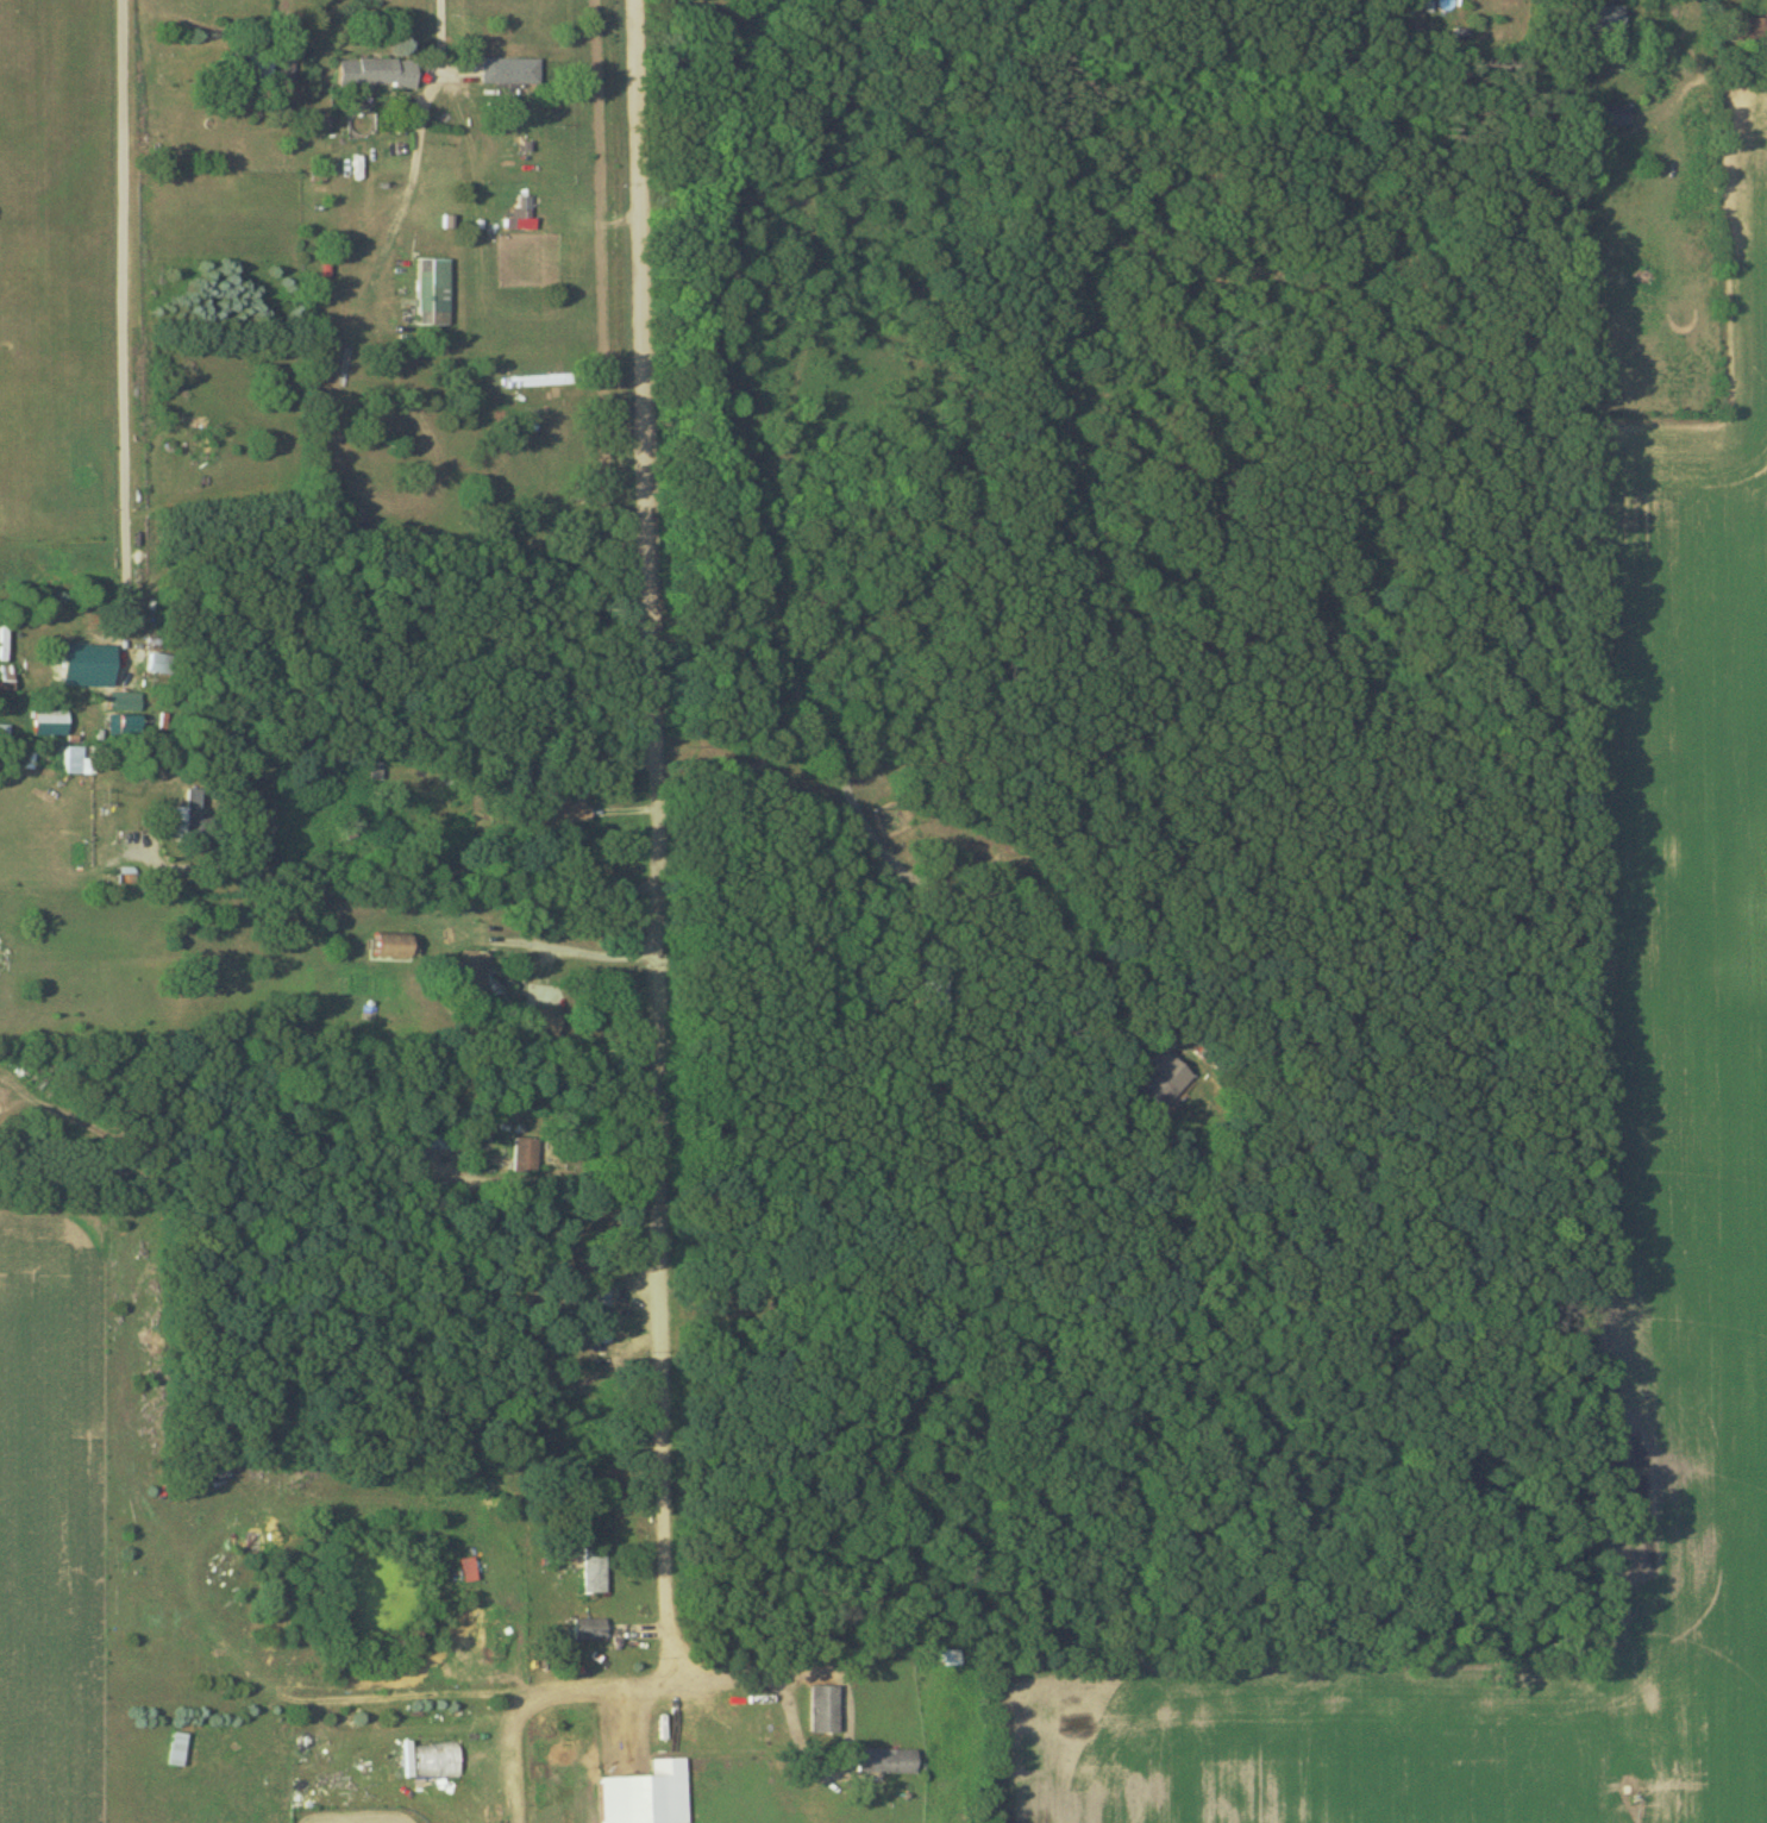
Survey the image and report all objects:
road: (286, 13)
road: (1569, 17)
building: (1598, 17)
building: (1748, 29)
building: (250, 65)
building: (509, 70)
building: (376, 73)
road: (421, 108)
building: (1615, 114)
building: (432, 292)
road: (126, 326)
building: (161, 663)
building: (89, 665)
building: (50, 722)
building: (79, 760)
building: (562, 803)
building: (194, 819)
road: (395, 867)
road: (984, 896)
building: (391, 945)
road: (607, 960)
road: (658, 971)
building: (934, 984)
building: (540, 1022)
building: (1155, 1086)
building: (524, 1155)
building: (594, 1568)
building: (590, 1628)
building: (951, 1656)
road: (737, 1675)
building: (823, 1709)
building: (885, 1760)
building: (647, 1794)

